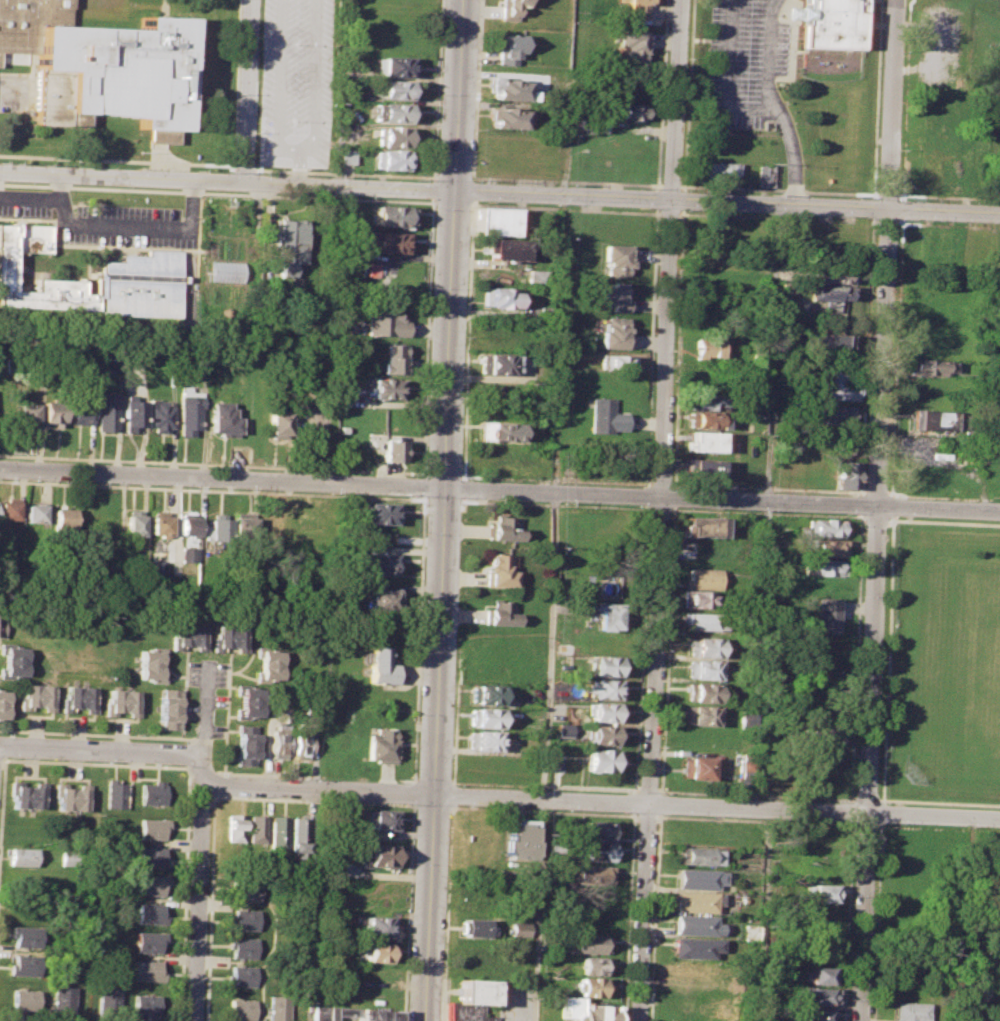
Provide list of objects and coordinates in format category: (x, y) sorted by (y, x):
road: (109, 3)
building: (508, 8)
building: (637, 8)
building: (832, 23)
building: (633, 44)
building: (508, 48)
parking lot: (745, 63)
building: (98, 65)
building: (395, 67)
road: (728, 76)
road: (235, 82)
parking lot: (296, 83)
building: (396, 89)
building: (509, 89)
road: (438, 90)
road: (12, 92)
road: (246, 92)
road: (876, 96)
road: (776, 104)
building: (391, 111)
building: (630, 111)
building: (506, 118)
building: (394, 136)
road: (904, 144)
road: (293, 149)
building: (347, 154)
road: (117, 159)
building: (393, 159)
road: (243, 166)
road: (300, 167)
building: (717, 170)
road: (345, 172)
building: (766, 173)
road: (454, 176)
road: (567, 180)
road: (671, 184)
road: (682, 185)
road: (686, 186)
road: (684, 188)
road: (434, 189)
road: (60, 190)
road: (499, 194)
road: (683, 199)
building: (392, 215)
building: (497, 220)
road: (268, 225)
road: (112, 227)
building: (388, 242)
building: (291, 244)
building: (506, 249)
building: (619, 258)
building: (140, 269)
building: (829, 274)
building: (539, 278)
road: (562, 282)
building: (831, 294)
building: (617, 296)
building: (502, 297)
building: (386, 322)
building: (616, 332)
road: (427, 337)
building: (828, 341)
road: (678, 348)
building: (708, 348)
building: (395, 359)
building: (617, 361)
building: (497, 363)
building: (931, 366)
building: (836, 385)
building: (386, 388)
building: (705, 400)
building: (79, 408)
building: (107, 410)
building: (52, 412)
building: (26, 413)
building: (160, 413)
building: (191, 413)
building: (131, 414)
building: (836, 415)
building: (605, 416)
building: (222, 419)
building: (932, 419)
building: (706, 420)
building: (277, 422)
building: (499, 430)
building: (701, 440)
building: (392, 450)
building: (701, 468)
building: (784, 472)
building: (847, 474)
road: (422, 486)
road: (499, 490)
road: (673, 496)
building: (8, 509)
road: (443, 510)
road: (661, 510)
road: (878, 510)
building: (32, 512)
building: (379, 513)
building: (62, 517)
road: (864, 520)
road: (876, 520)
building: (133, 522)
road: (889, 522)
building: (158, 523)
building: (187, 523)
building: (701, 526)
building: (218, 527)
building: (242, 527)
building: (827, 527)
building: (502, 529)
building: (829, 547)
building: (187, 554)
building: (377, 560)
road: (860, 563)
building: (822, 567)
building: (497, 571)
building: (701, 578)
building: (380, 598)
building: (695, 598)
building: (498, 611)
road: (768, 614)
building: (827, 614)
building: (607, 615)
building: (702, 620)
building: (1, 626)
building: (187, 636)
building: (229, 637)
road: (416, 638)
building: (702, 646)
road: (666, 649)
building: (11, 660)
building: (149, 663)
road: (887, 663)
building: (268, 664)
building: (378, 665)
building: (605, 666)
building: (702, 669)
building: (605, 689)
building: (700, 692)
building: (485, 694)
building: (35, 697)
building: (77, 699)
building: (245, 701)
building: (2, 703)
building: (120, 703)
building: (167, 709)
building: (604, 710)
building: (700, 715)
building: (483, 717)
building: (745, 717)
road: (202, 719)
building: (562, 729)
building: (603, 734)
building: (823, 735)
building: (699, 738)
building: (300, 740)
building: (483, 740)
building: (278, 742)
building: (245, 744)
building: (380, 745)
road: (108, 753)
road: (545, 757)
building: (601, 760)
building: (696, 767)
building: (744, 769)
building: (742, 782)
building: (152, 792)
road: (411, 792)
building: (27, 793)
building: (114, 793)
building: (71, 795)
road: (599, 801)
road: (660, 803)
road: (851, 810)
road: (647, 814)
road: (755, 818)
building: (380, 819)
road: (449, 821)
road: (865, 824)
road: (937, 827)
building: (152, 828)
building: (233, 828)
building: (256, 828)
building: (598, 829)
building: (277, 831)
building: (298, 834)
building: (519, 840)
building: (593, 851)
building: (375, 855)
building: (149, 856)
building: (699, 856)
building: (25, 857)
building: (69, 857)
building: (593, 875)
building: (699, 878)
building: (148, 884)
building: (245, 888)
building: (822, 892)
building: (697, 901)
road: (196, 902)
road: (406, 911)
building: (147, 912)
road: (654, 917)
building: (243, 919)
road: (971, 919)
road: (847, 920)
building: (694, 924)
building: (374, 927)
building: (473, 927)
building: (519, 928)
building: (750, 930)
building: (28, 935)
building: (145, 942)
building: (587, 943)
building: (241, 946)
building: (694, 947)
building: (373, 952)
building: (476, 959)
building: (26, 964)
building: (593, 965)
building: (145, 969)
building: (693, 970)
building: (820, 974)
building: (242, 975)
building: (589, 986)
building: (473, 990)
building: (816, 995)
building: (24, 999)
building: (62, 1001)
building: (106, 1001)
building: (143, 1006)
building: (277, 1007)
building: (240, 1010)
building: (584, 1010)
building: (912, 1011)
building: (466, 1012)
building: (319, 1013)
building: (364, 1013)
building: (817, 1014)

